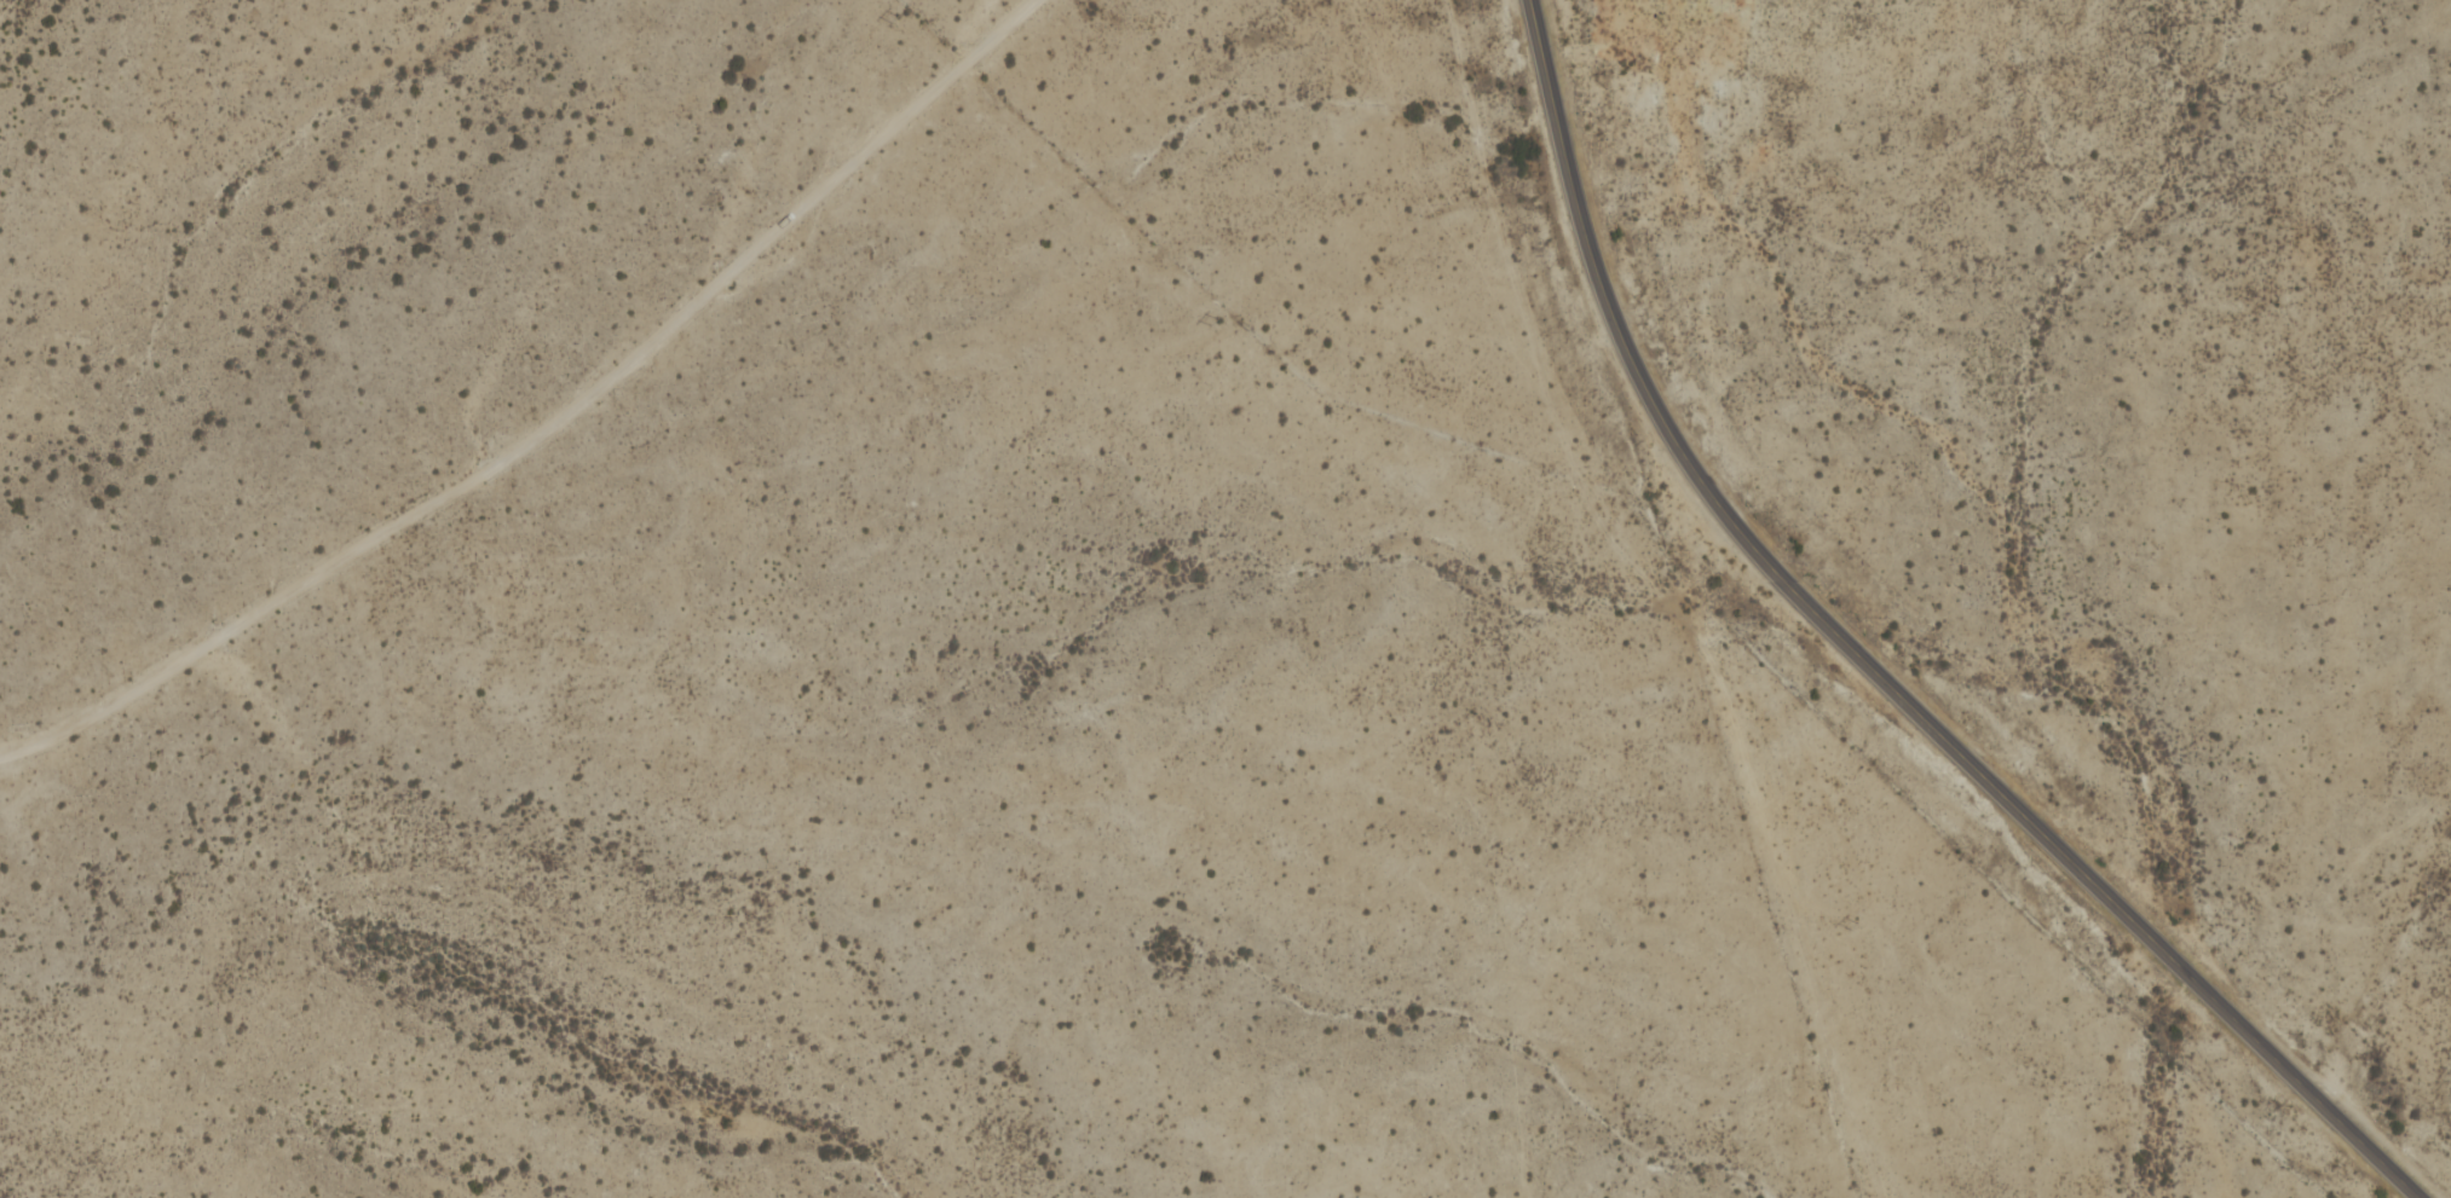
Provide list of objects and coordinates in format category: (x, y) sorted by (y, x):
power tower: (892, 17)
power tower: (1211, 319)
road: (552, 426)
power tower: (1529, 620)
road: (1870, 664)
power tower: (1850, 922)

